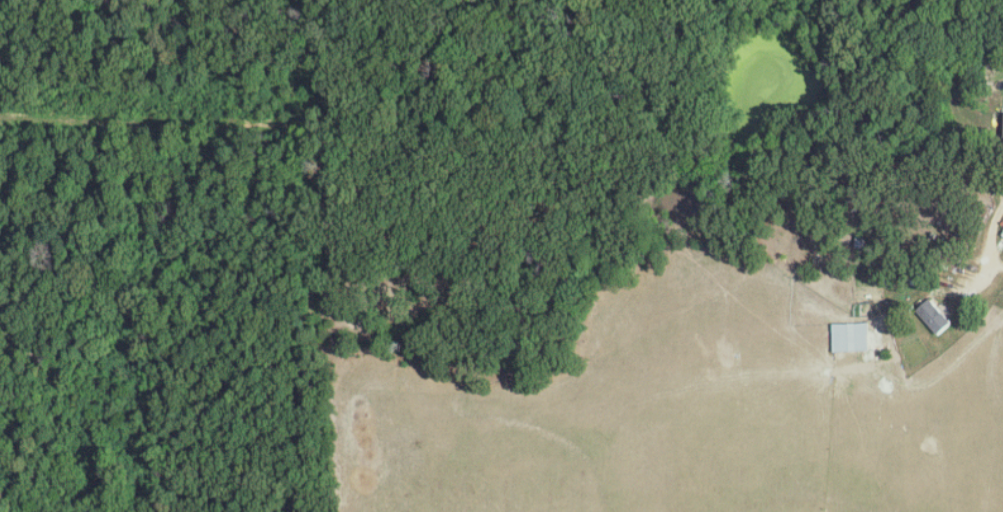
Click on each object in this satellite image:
road: (982, 262)
building: (937, 317)
building: (854, 336)

